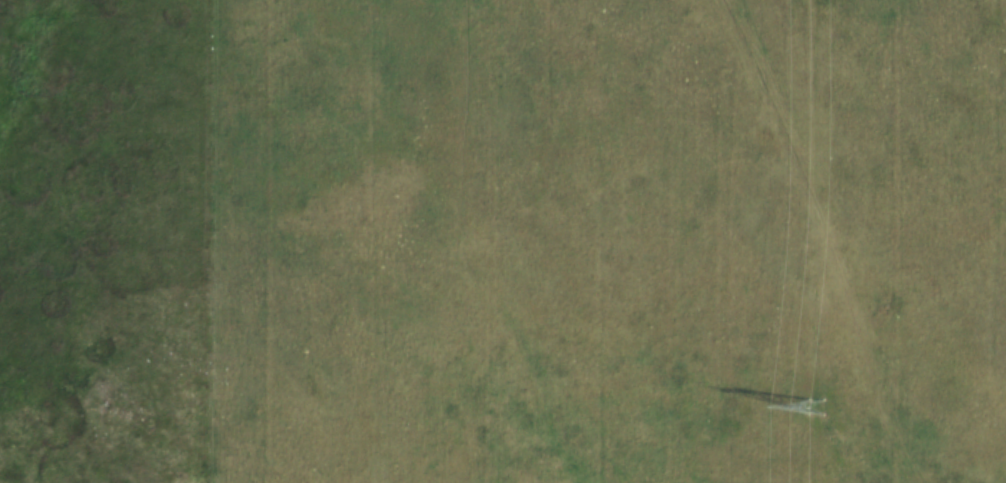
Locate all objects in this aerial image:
power tower: (812, 408)

